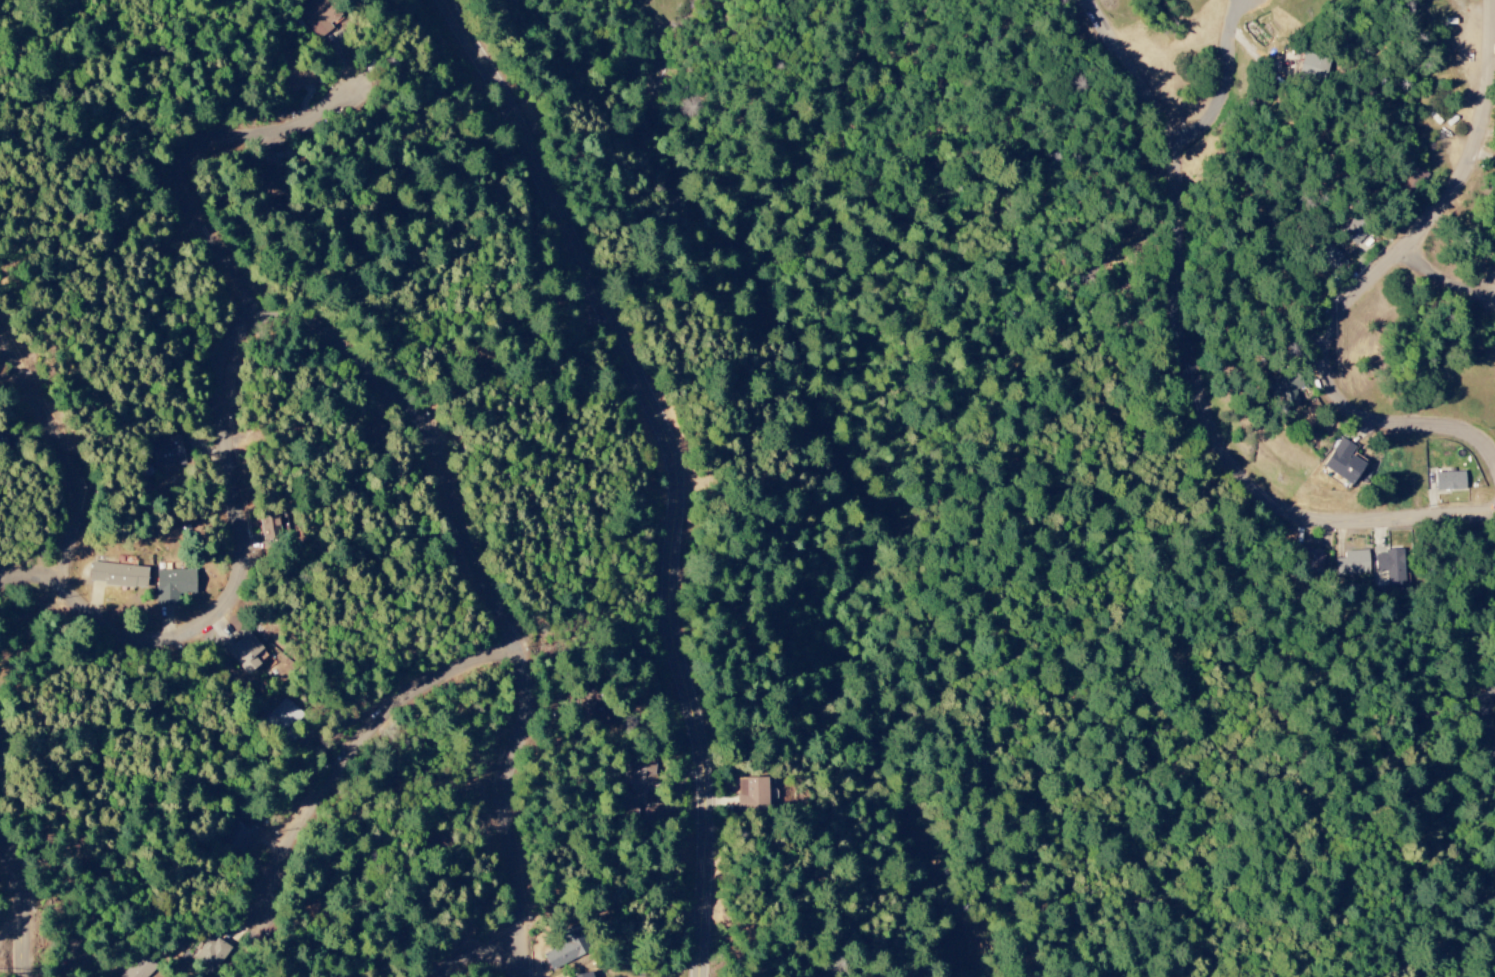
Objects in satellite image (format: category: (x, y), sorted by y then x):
building: (319, 16)
building: (1311, 66)
building: (295, 73)
road: (1227, 82)
road: (198, 171)
building: (269, 180)
building: (1412, 180)
building: (1353, 232)
building: (1329, 254)
road: (1453, 271)
road: (1360, 303)
road: (367, 358)
road: (1199, 361)
building: (1284, 388)
building: (371, 429)
building: (2, 443)
road: (68, 448)
building: (168, 451)
building: (1342, 462)
road: (689, 464)
building: (1449, 481)
building: (1311, 561)
building: (1353, 563)
building: (1391, 567)
building: (117, 575)
building: (172, 586)
building: (241, 650)
building: (594, 712)
building: (283, 715)
road: (1494, 716)
road: (365, 744)
building: (638, 785)
building: (751, 795)
building: (238, 837)
road: (18, 857)
building: (565, 949)
building: (211, 954)
road: (489, 962)
building: (140, 968)
building: (585, 975)

